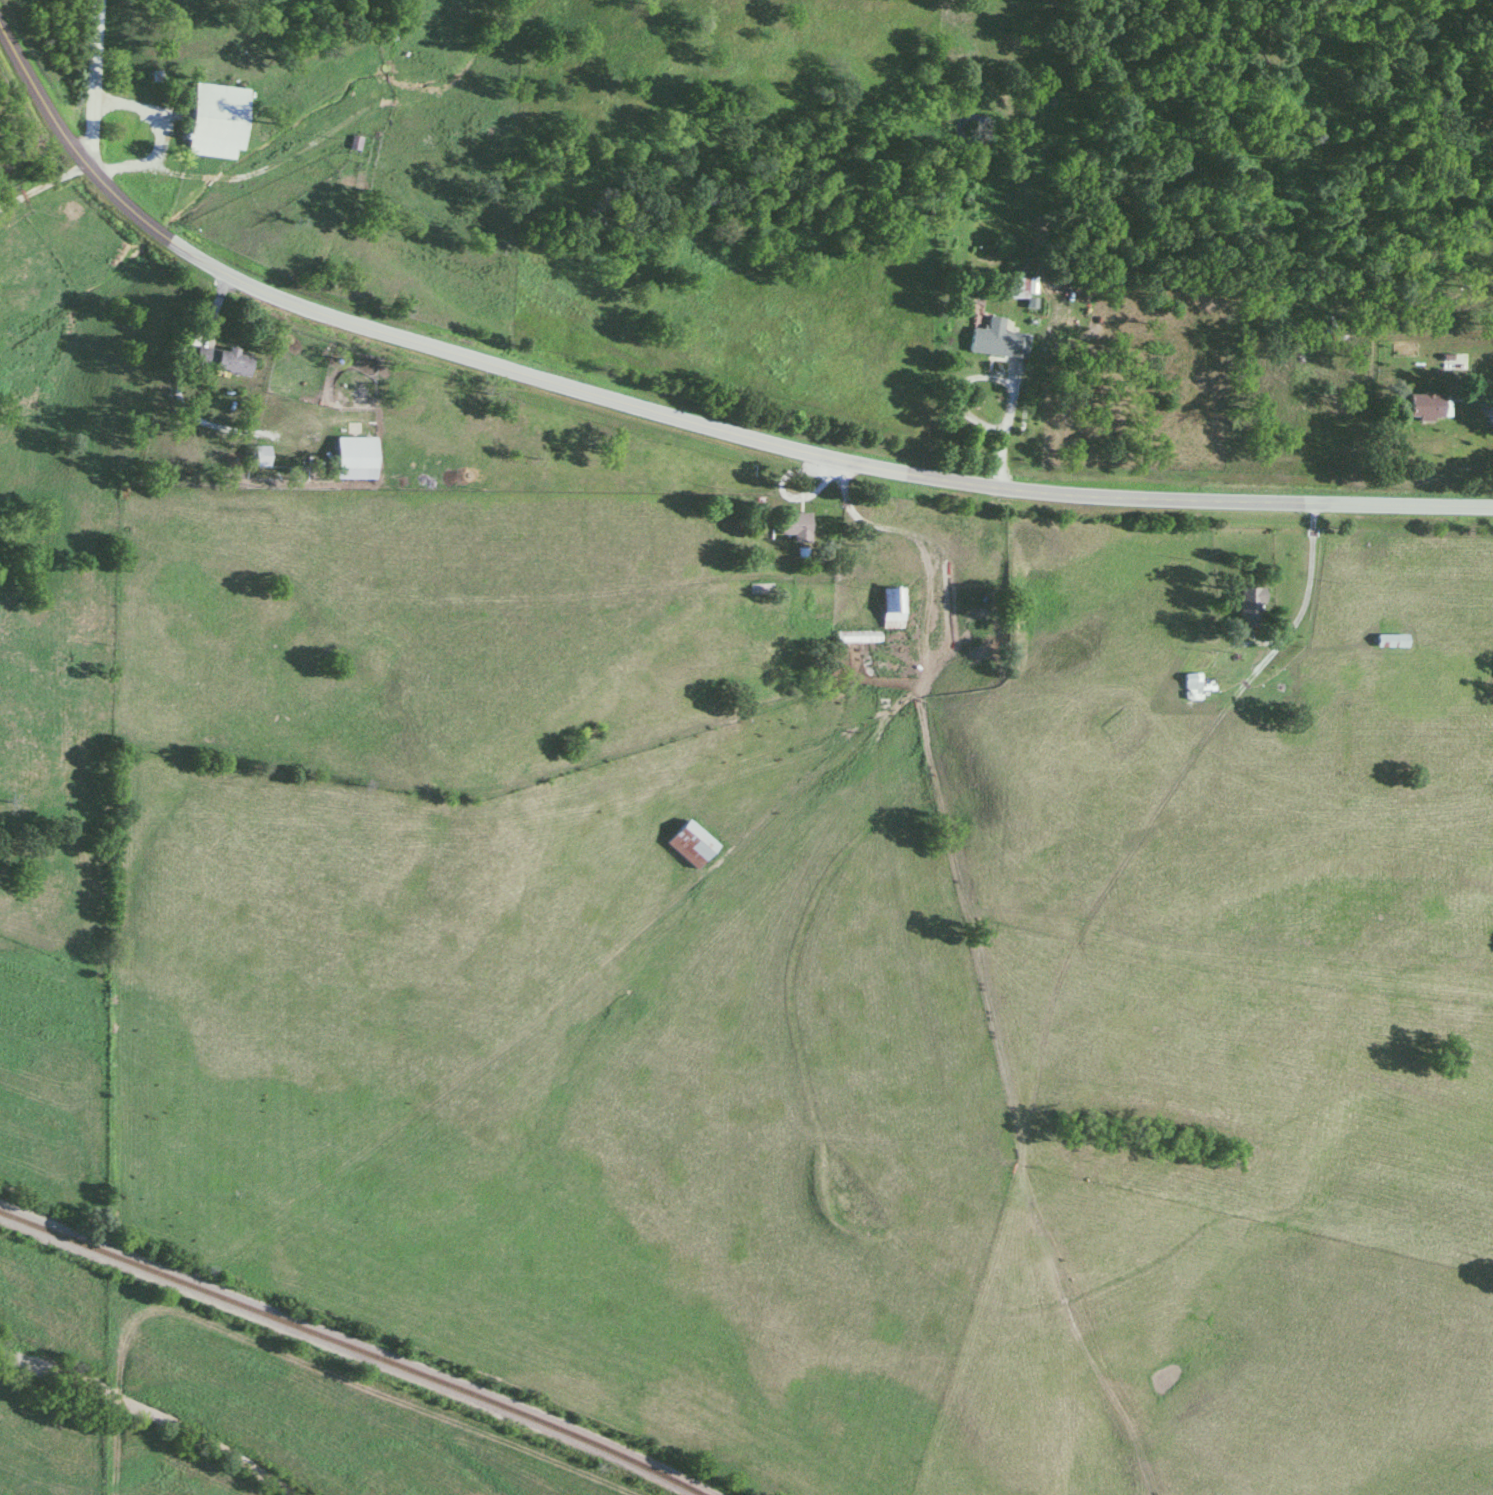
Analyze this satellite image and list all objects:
road: (94, 83)
building: (221, 121)
building: (1016, 288)
building: (996, 341)
building: (233, 364)
building: (1428, 407)
road: (681, 421)
road: (1001, 436)
building: (262, 457)
building: (358, 458)
building: (797, 527)
building: (895, 609)
building: (1251, 609)
building: (859, 637)
building: (1189, 682)
building: (692, 846)
railway: (346, 1347)

